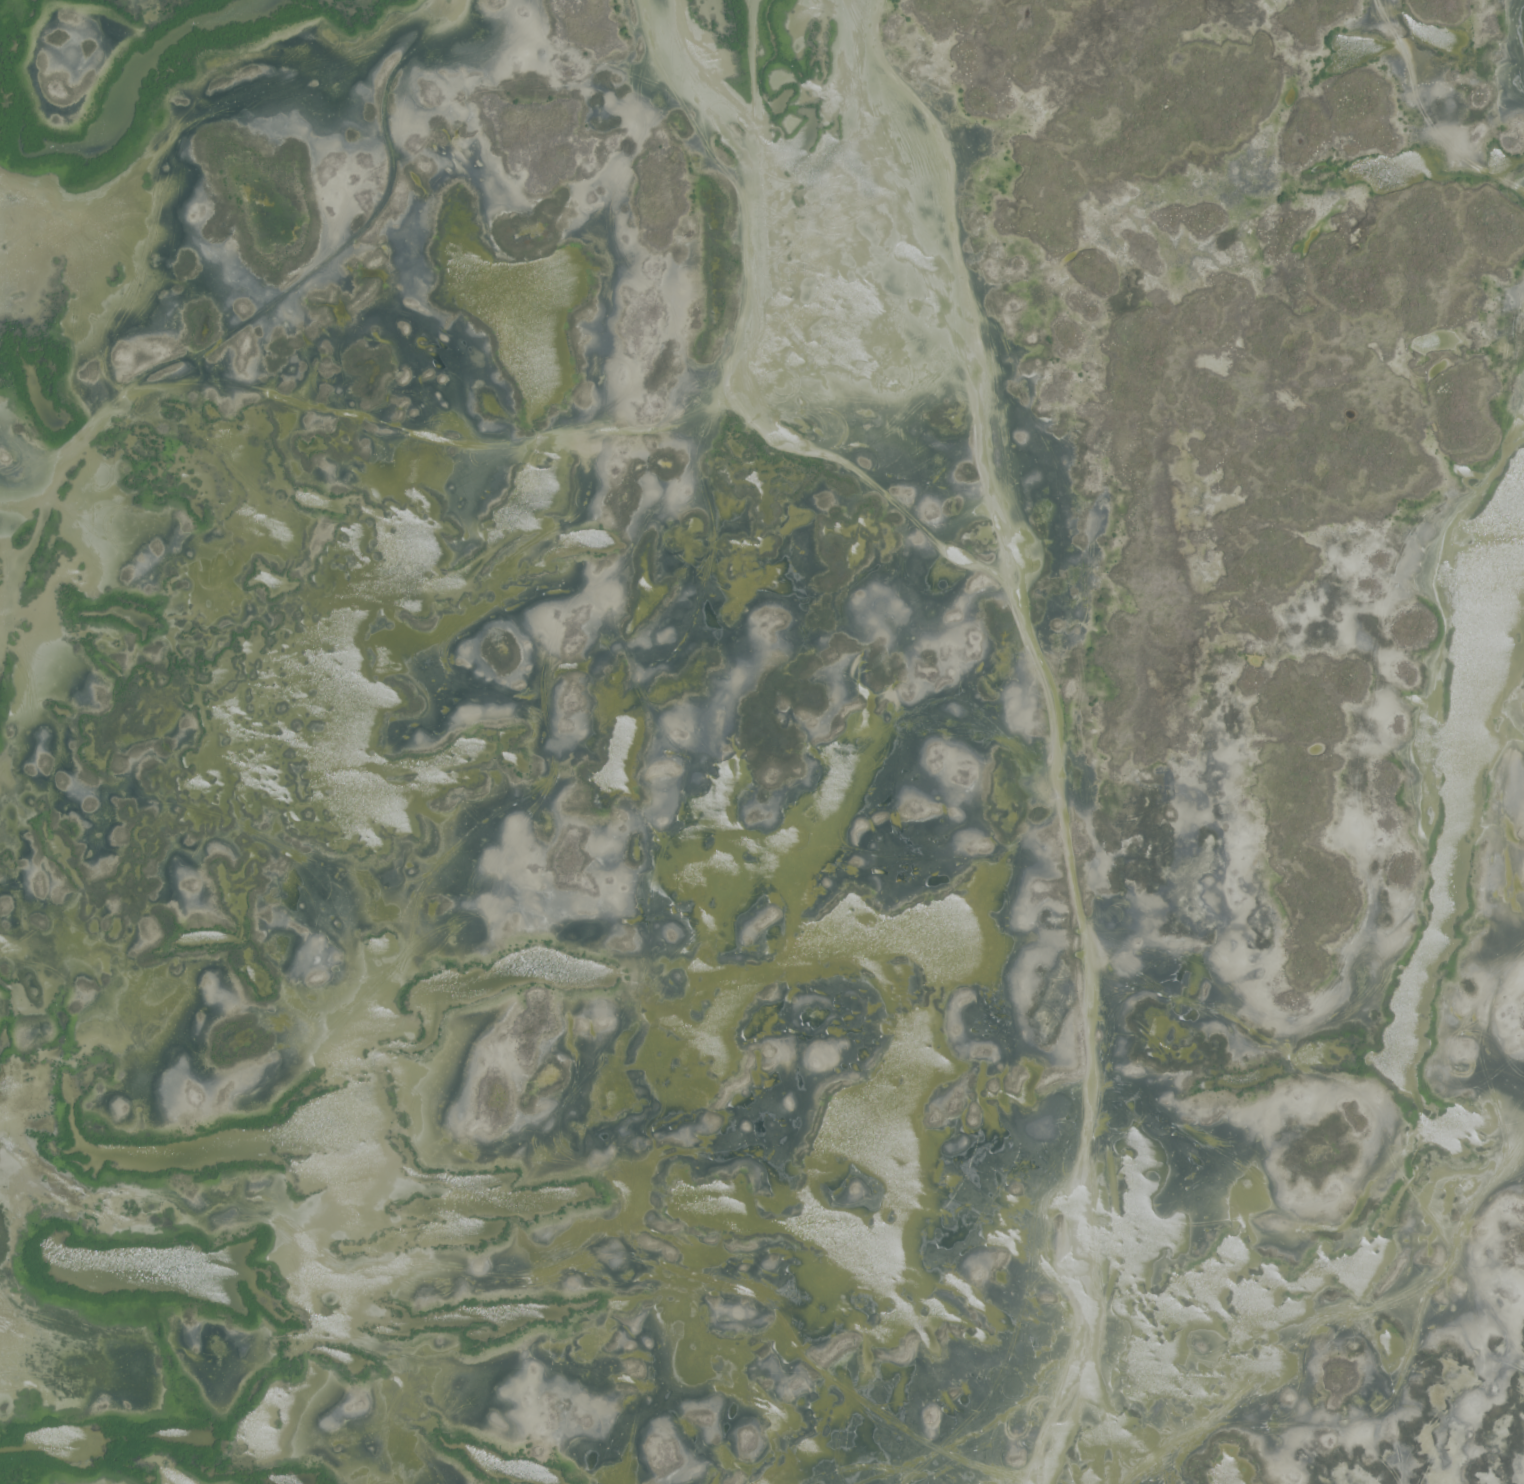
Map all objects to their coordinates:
park: (762, 742)

